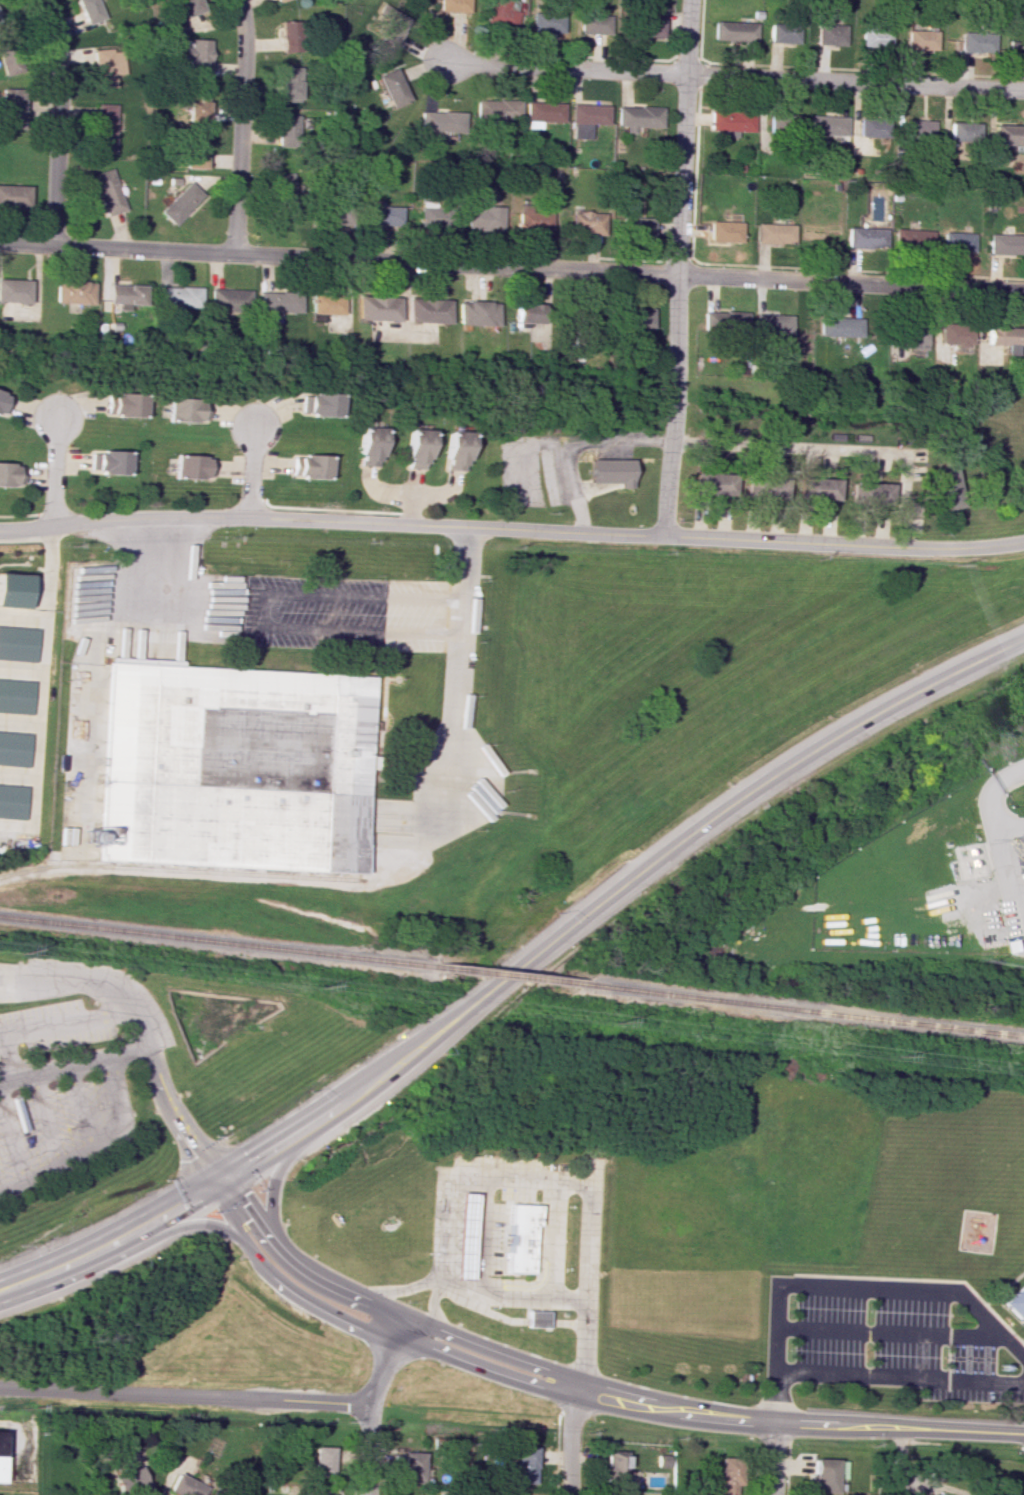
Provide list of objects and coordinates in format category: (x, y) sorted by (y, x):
building: (278, 0)
building: (454, 6)
building: (189, 7)
building: (89, 10)
building: (502, 12)
building: (546, 22)
building: (389, 24)
building: (594, 24)
building: (648, 26)
building: (735, 31)
building: (784, 32)
building: (831, 34)
building: (290, 36)
building: (875, 37)
building: (922, 40)
building: (977, 41)
building: (197, 58)
building: (8, 59)
building: (107, 66)
road: (566, 66)
road: (855, 80)
building: (290, 82)
building: (392, 88)
building: (197, 104)
building: (11, 107)
building: (497, 109)
building: (542, 113)
building: (637, 117)
road: (58, 118)
building: (586, 119)
building: (441, 121)
building: (730, 122)
building: (783, 123)
building: (828, 125)
road: (240, 126)
building: (873, 127)
building: (104, 128)
building: (917, 129)
building: (287, 130)
building: (964, 131)
building: (1008, 134)
building: (194, 150)
building: (108, 191)
building: (14, 196)
building: (181, 203)
building: (432, 212)
building: (386, 215)
building: (339, 216)
building: (484, 217)
building: (534, 220)
building: (586, 222)
building: (635, 227)
building: (722, 231)
building: (774, 233)
building: (866, 237)
building: (913, 239)
building: (957, 242)
building: (1006, 243)
road: (337, 258)
road: (676, 267)
road: (850, 282)
building: (14, 290)
building: (72, 292)
building: (128, 295)
building: (178, 296)
building: (229, 300)
building: (279, 301)
building: (326, 303)
building: (378, 308)
building: (429, 310)
building: (527, 311)
building: (478, 313)
building: (636, 318)
building: (722, 321)
building: (770, 324)
building: (838, 326)
building: (955, 334)
building: (1003, 337)
building: (913, 338)
building: (3, 403)
building: (121, 404)
building: (315, 404)
building: (182, 409)
parking lot: (620, 429)
road: (524, 444)
road: (574, 445)
building: (367, 446)
building: (415, 448)
road: (832, 449)
building: (455, 450)
building: (106, 462)
building: (189, 466)
building: (307, 466)
parking lot: (531, 470)
road: (53, 471)
building: (608, 471)
road: (247, 473)
building: (8, 474)
building: (713, 483)
building: (818, 488)
building: (945, 488)
building: (763, 489)
building: (870, 491)
road: (331, 522)
road: (844, 542)
road: (145, 556)
road: (47, 573)
building: (13, 590)
road: (267, 610)
parking lot: (344, 613)
road: (22, 617)
building: (18, 643)
building: (16, 696)
road: (453, 726)
road: (38, 741)
building: (14, 748)
building: (233, 768)
building: (11, 801)
road: (989, 804)
railway: (181, 869)
road: (1003, 875)
road: (612, 895)
railway: (214, 940)
power tower: (19, 953)
railway: (502, 974)
road: (74, 976)
power tower: (315, 989)
railway: (799, 1010)
road: (87, 1019)
power tower: (615, 1019)
parking lot: (47, 1025)
power tower: (894, 1053)
road: (9, 1056)
road: (73, 1065)
road: (110, 1097)
road: (80, 1108)
road: (179, 1119)
parking lot: (56, 1120)
road: (43, 1121)
road: (10, 1144)
road: (60, 1164)
road: (266, 1176)
traffic signals: (223, 1183)
road: (186, 1219)
road: (439, 1235)
building: (460, 1236)
gas station: (460, 1236)
building: (519, 1237)
road: (112, 1240)
road: (555, 1241)
road: (481, 1281)
road: (587, 1285)
road: (918, 1291)
road: (391, 1293)
building: (1016, 1304)
road: (383, 1310)
road: (430, 1312)
building: (536, 1318)
road: (369, 1329)
road: (888, 1331)
building: (1022, 1339)
parking lot: (897, 1349)
road: (777, 1356)
road: (385, 1360)
road: (900, 1378)
road: (185, 1395)
road: (798, 1428)
road: (567, 1440)
road: (369, 1448)
building: (2, 1449)
building: (323, 1460)
road: (772, 1461)
building: (414, 1467)
building: (619, 1470)
building: (728, 1475)
building: (825, 1475)
building: (129, 1480)
building: (186, 1486)
building: (320, 1494)
building: (930, 1494)

